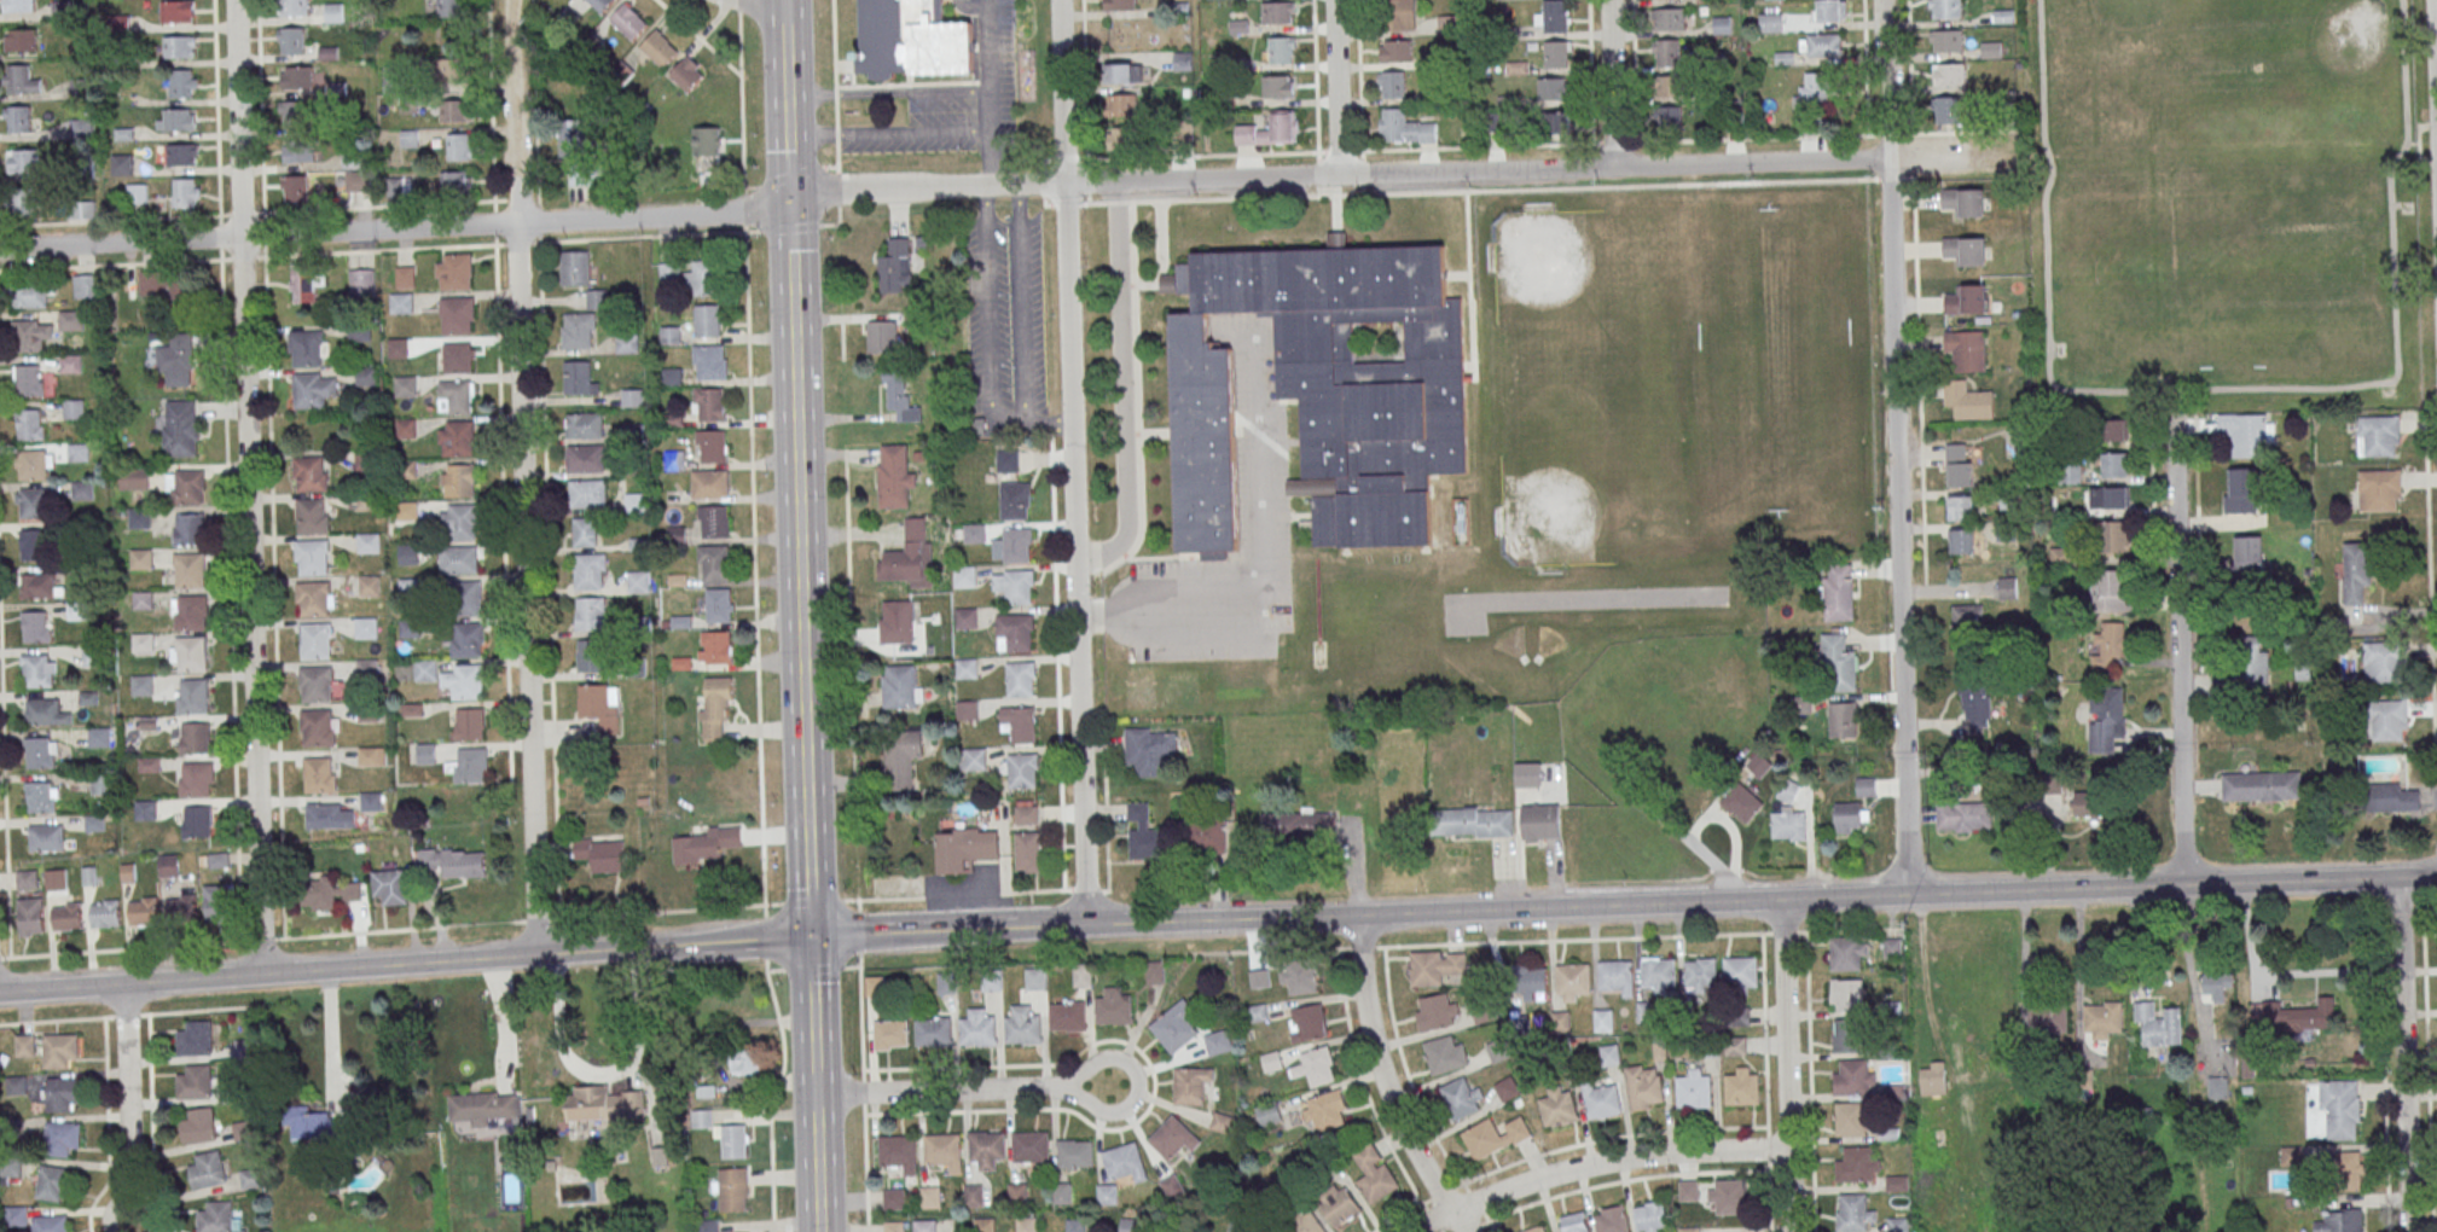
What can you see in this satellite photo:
building: (600, 4)
building: (1120, 5)
building: (18, 6)
building: (294, 7)
building: (451, 8)
building: (1946, 8)
building: (1830, 10)
building: (176, 11)
building: (1278, 12)
building: (333, 13)
building: (1403, 14)
building: (1556, 16)
building: (1670, 18)
building: (629, 21)
building: (1770, 21)
building: (1450, 23)
road: (784, 31)
building: (1948, 39)
building: (21, 40)
building: (913, 40)
building: (290, 41)
road: (2435, 41)
building: (1119, 43)
building: (1821, 43)
road: (988, 45)
building: (179, 47)
building: (660, 48)
building: (1992, 48)
building: (1397, 50)
building: (1281, 51)
building: (1667, 52)
building: (1556, 53)
road: (1910, 66)
road: (1866, 68)
building: (452, 69)
road: (1590, 71)
road: (1635, 71)
building: (1119, 72)
building: (1949, 72)
building: (689, 74)
building: (296, 77)
building: (391, 79)
building: (19, 80)
road: (1085, 82)
building: (180, 83)
building: (1394, 83)
road: (1609, 83)
building: (1670, 85)
building: (1278, 86)
road: (1335, 87)
building: (1554, 88)
building: (1815, 89)
road: (888, 94)
road: (1359, 97)
road: (1316, 98)
building: (1121, 106)
building: (1945, 109)
building: (456, 111)
road: (990, 111)
building: (292, 114)
building: (1669, 117)
building: (19, 118)
building: (175, 120)
building: (1557, 126)
building: (1405, 127)
road: (2432, 127)
building: (81, 128)
building: (1271, 130)
road: (2419, 130)
road: (787, 132)
road: (1960, 132)
road: (889, 135)
road: (1888, 135)
building: (1122, 138)
road: (1754, 138)
road: (1614, 143)
road: (2413, 144)
building: (460, 146)
building: (575, 149)
building: (708, 149)
road: (1458, 149)
building: (298, 151)
building: (181, 155)
road: (836, 156)
road: (1955, 156)
road: (991, 159)
road: (1064, 159)
road: (1084, 159)
building: (23, 161)
road: (1044, 162)
building: (121, 164)
road: (1888, 178)
building: (356, 181)
building: (456, 181)
road: (1087, 181)
road: (1044, 184)
building: (396, 186)
road: (942, 187)
building: (294, 188)
road: (1478, 191)
building: (186, 193)
traffic signals: (789, 199)
road: (1089, 199)
building: (1965, 201)
building: (22, 202)
road: (1044, 204)
road: (1064, 204)
building: (81, 208)
building: (1966, 249)
building: (895, 267)
building: (575, 268)
building: (453, 272)
building: (405, 277)
building: (703, 278)
building: (360, 283)
building: (159, 284)
building: (303, 284)
building: (87, 286)
road: (791, 287)
building: (31, 295)
building: (597, 298)
building: (1967, 298)
building: (401, 303)
building: (457, 315)
building: (70, 320)
building: (707, 320)
building: (579, 331)
building: (31, 335)
building: (882, 336)
building: (627, 344)
building: (308, 348)
building: (398, 348)
building: (1966, 349)
building: (458, 358)
building: (178, 360)
building: (710, 362)
building: (70, 364)
road: (1917, 373)
building: (367, 376)
building: (580, 377)
building: (29, 379)
road: (1124, 388)
building: (313, 389)
road: (2222, 389)
building: (1325, 390)
building: (899, 395)
building: (456, 396)
building: (632, 399)
building: (1968, 400)
building: (709, 405)
building: (72, 409)
road: (1008, 420)
building: (30, 425)
building: (584, 425)
building: (180, 429)
building: (2117, 429)
building: (2246, 432)
building: (2378, 435)
building: (457, 438)
building: (712, 444)
road: (1897, 446)
building: (77, 452)
building: (586, 459)
building: (674, 460)
building: (1008, 461)
road: (1070, 461)
building: (1960, 464)
building: (2116, 464)
building: (35, 465)
building: (311, 473)
road: (523, 476)
building: (134, 477)
building: (895, 477)
building: (458, 481)
building: (710, 484)
building: (185, 487)
road: (246, 487)
building: (2240, 489)
building: (2379, 489)
building: (82, 490)
building: (588, 494)
building: (2110, 496)
building: (1015, 500)
building: (30, 504)
building: (1961, 506)
building: (407, 511)
building: (312, 517)
building: (139, 518)
building: (714, 521)
building: (458, 522)
building: (187, 529)
building: (585, 533)
building: (677, 535)
building: (2116, 535)
building: (1962, 540)
building: (369, 542)
building: (33, 545)
building: (1017, 545)
building: (2249, 552)
building: (408, 554)
building: (910, 556)
building: (2060, 556)
building: (312, 557)
building: (140, 559)
building: (458, 560)
building: (714, 562)
building: (2357, 568)
building: (188, 571)
building: (591, 571)
building: (964, 577)
road: (800, 580)
building: (638, 581)
building: (411, 585)
building: (40, 586)
building: (369, 586)
building: (1015, 586)
road: (1183, 586)
road: (1265, 587)
road: (1925, 588)
building: (2007, 588)
road: (1950, 589)
building: (2112, 589)
building: (1839, 592)
building: (468, 598)
building: (313, 599)
building: (143, 600)
building: (719, 605)
building: (76, 611)
building: (188, 612)
building: (592, 612)
building: (1968, 617)
road: (755, 618)
building: (965, 618)
building: (899, 623)
building: (36, 627)
building: (365, 628)
building: (410, 628)
building: (1015, 633)
building: (466, 639)
building: (314, 641)
building: (2110, 643)
building: (715, 646)
road: (2183, 650)
building: (188, 653)
building: (590, 655)
building: (91, 656)
building: (1840, 661)
building: (2385, 661)
building: (2253, 662)
building: (367, 668)
building: (967, 668)
building: (425, 669)
building: (37, 670)
building: (1021, 679)
building: (464, 681)
building: (315, 684)
building: (141, 686)
building: (900, 686)
building: (191, 696)
building: (1977, 699)
building: (715, 705)
building: (600, 707)
building: (967, 709)
building: (45, 713)
building: (2106, 717)
building: (1843, 719)
building: (2387, 720)
building: (469, 723)
building: (1019, 723)
building: (317, 727)
building: (98, 738)
building: (193, 738)
building: (1150, 750)
building: (40, 752)
building: (425, 754)
building: (371, 757)
building: (901, 757)
building: (975, 760)
building: (1759, 763)
building: (468, 767)
building: (1022, 771)
building: (319, 774)
building: (1527, 774)
building: (195, 779)
building: (101, 784)
building: (2262, 785)
building: (1866, 786)
building: (1789, 790)
building: (2396, 796)
building: (42, 797)
building: (371, 801)
building: (1742, 802)
building: (2091, 803)
building: (145, 809)
building: (1026, 812)
building: (329, 815)
building: (1965, 815)
building: (1849, 817)
building: (196, 821)
building: (1540, 821)
building: (1475, 823)
building: (1789, 823)
building: (1288, 830)
building: (1143, 835)
building: (1205, 837)
building: (46, 838)
building: (706, 844)
building: (964, 848)
building: (1027, 852)
building: (602, 854)
building: (216, 860)
road: (807, 860)
building: (454, 862)
building: (168, 865)
building: (27, 879)
building: (390, 887)
road: (2421, 887)
building: (330, 893)
building: (219, 902)
building: (182, 908)
road: (2424, 908)
road: (2404, 910)
building: (143, 912)
building: (105, 913)
building: (31, 917)
building: (66, 917)
road: (553, 918)
road: (1217, 918)
traffic signals: (811, 937)
road: (1623, 937)
building: (1893, 947)
building: (1849, 953)
road: (2024, 957)
road: (2187, 957)
road: (2079, 963)
building: (1435, 965)
building: (1740, 971)
building: (1155, 972)
building: (1658, 974)
building: (1700, 974)
building: (1081, 975)
building: (1617, 976)
building: (1035, 978)
building: (1259, 978)
building: (1299, 978)
building: (1530, 981)
building: (1572, 981)
building: (2218, 982)
building: (946, 983)
building: (874, 986)
building: (1846, 994)
building: (1114, 1006)
building: (1437, 1010)
building: (1484, 1011)
building: (1643, 1011)
road: (812, 1016)
building: (1067, 1016)
building: (2293, 1017)
building: (2047, 1018)
building: (2102, 1018)
building: (1603, 1019)
building: (1561, 1021)
building: (1306, 1023)
building: (2159, 1023)
building: (977, 1027)
building: (1022, 1027)
building: (1174, 1027)
building: (934, 1031)
building: (890, 1035)
building: (1845, 1035)
road: (330, 1038)
building: (195, 1039)
building: (1218, 1042)
building: (1735, 1045)
building: (24, 1046)
building: (244, 1048)
building: (1499, 1048)
building: (1445, 1053)
building: (1609, 1054)
road: (2402, 1054)
road: (1810, 1058)
building: (1271, 1062)
building: (745, 1063)
road: (1786, 1064)
road: (2427, 1064)
road: (863, 1065)
building: (1316, 1067)
road: (600, 1070)
building: (1853, 1076)
building: (1933, 1077)
building: (193, 1082)
road: (1383, 1082)
building: (1190, 1085)
building: (16, 1086)
building: (1644, 1086)
building: (1742, 1086)
building: (1507, 1087)
building: (1694, 1087)
building: (2217, 1087)
road: (1092, 1088)
road: (942, 1092)
building: (62, 1094)
building: (1461, 1097)
building: (1602, 1098)
road: (128, 1102)
building: (603, 1105)
building: (1559, 1106)
building: (2340, 1108)
building: (483, 1109)
building: (1325, 1110)
building: (1267, 1115)
building: (1850, 1117)
building: (703, 1118)
building: (315, 1125)
building: (198, 1126)
building: (244, 1131)
building: (1495, 1137)
building: (60, 1138)
building: (1173, 1139)
building: (733, 1140)
building: (986, 1147)
building: (1031, 1147)
building: (945, 1151)
building: (899, 1152)
building: (1075, 1153)
road: (2385, 1153)
building: (2292, 1155)
building: (1125, 1162)
road: (816, 1163)
road: (1596, 1164)
building: (1858, 1164)
building: (205, 1170)
building: (2348, 1170)
building: (1375, 1175)
building: (251, 1178)
building: (1897, 1182)
building: (52, 1184)
building: (733, 1190)
building: (1689, 1190)
building: (1062, 1193)
building: (1107, 1195)
building: (973, 1196)
building: (1727, 1196)
building: (930, 1197)
building: (894, 1199)
building: (1339, 1205)
building: (1853, 1213)
building: (16, 1216)
building: (1650, 1216)
building: (216, 1218)
building: (1611, 1219)
building: (2340, 1220)
building: (1307, 1222)
building: (1574, 1222)
building: (50, 1224)
building: (1026, 1224)
building: (1898, 1224)
building: (924, 1225)
building: (983, 1225)
building: (1075, 1225)
building: (1128, 1225)
building: (708, 1226)
building: (894, 1226)
building: (1534, 1228)
building: (1689, 1228)

